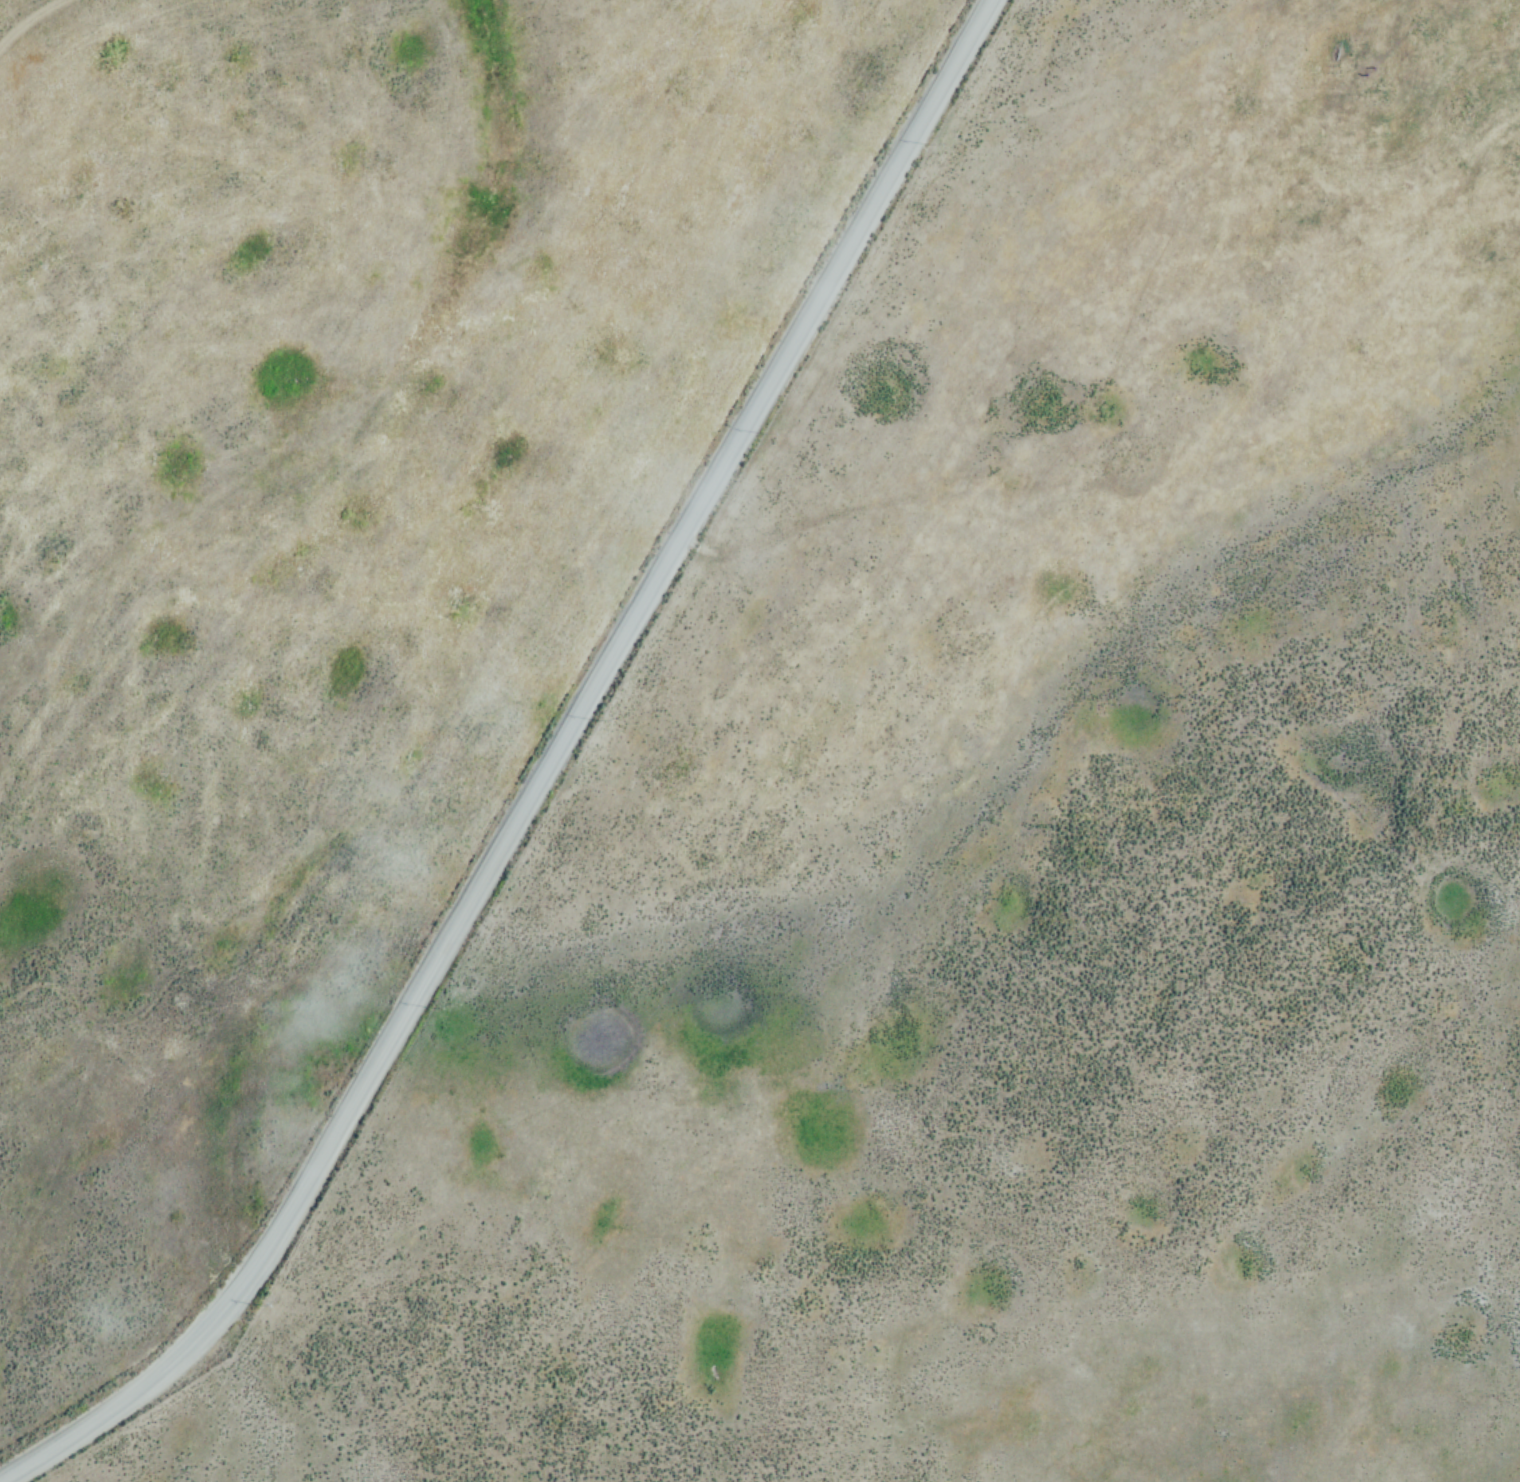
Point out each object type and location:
road: (540, 765)

